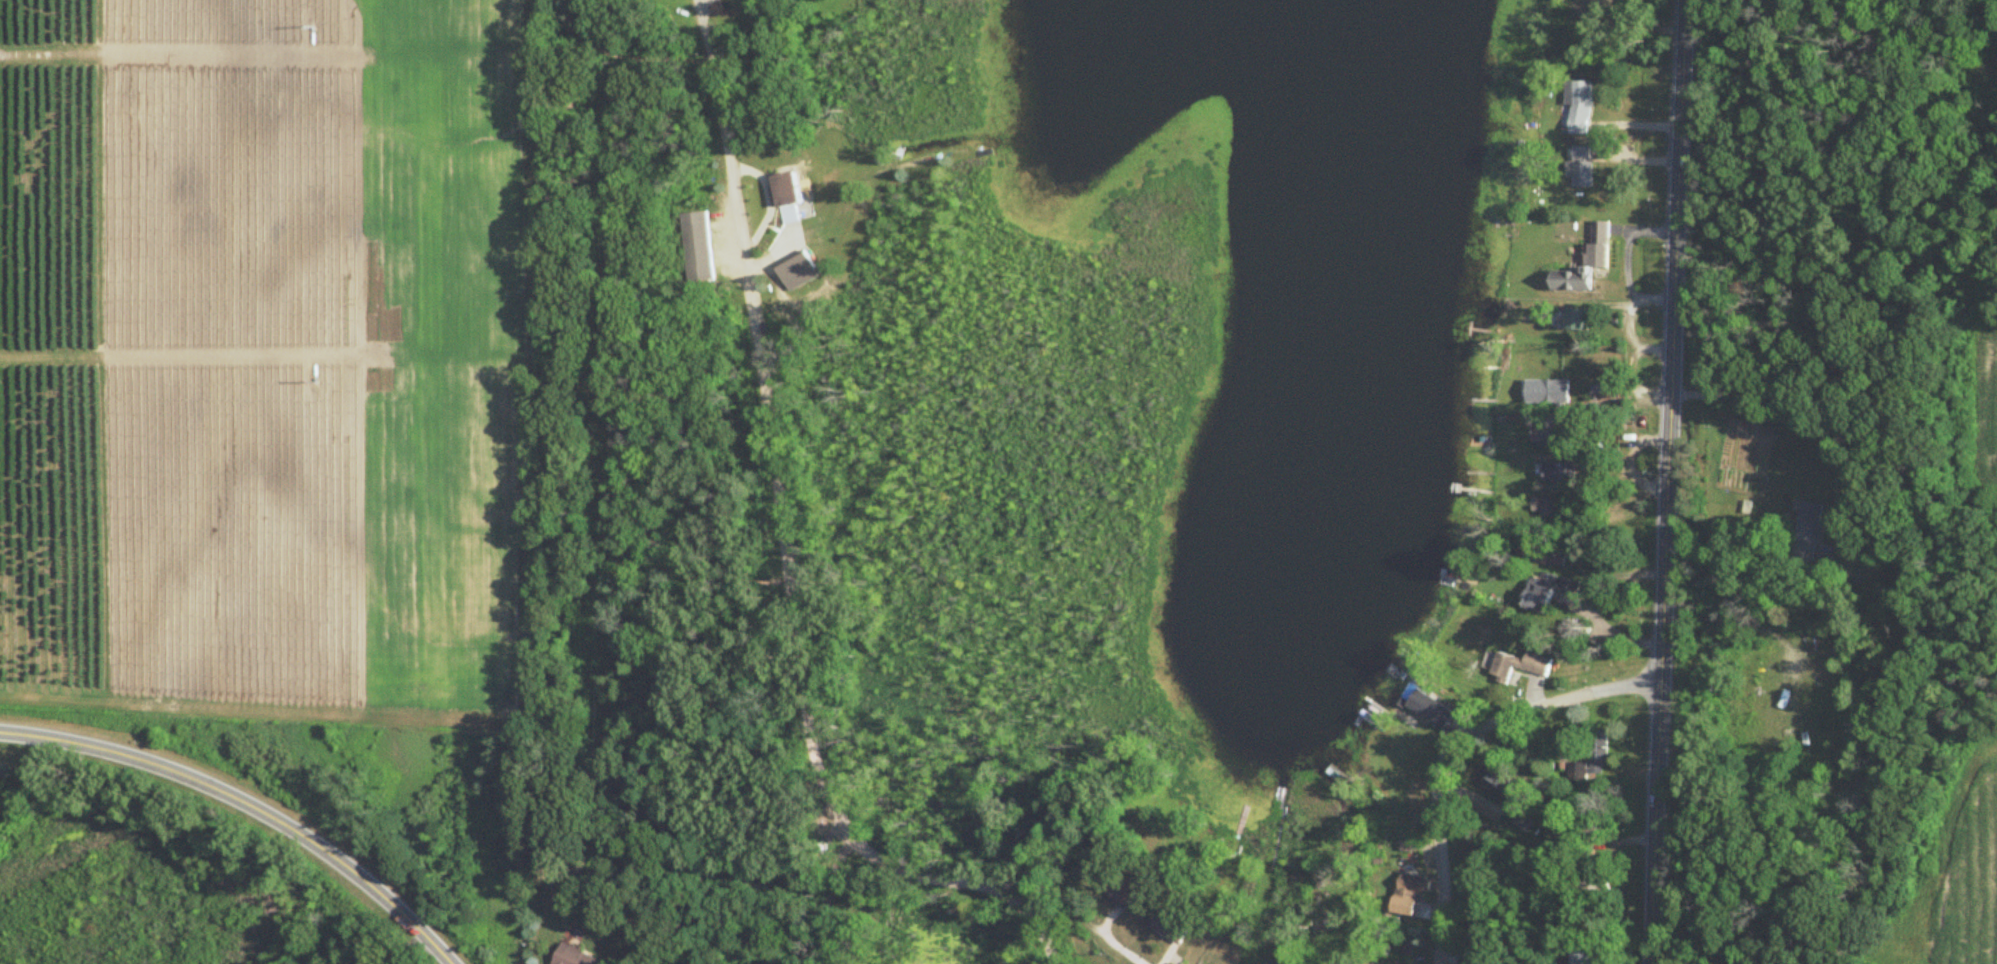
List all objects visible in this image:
road: (1609, 49)
building: (1580, 106)
road: (1680, 115)
building: (1582, 168)
building: (789, 197)
building: (1599, 245)
building: (697, 247)
road: (1624, 263)
building: (798, 274)
building: (1578, 320)
building: (1549, 392)
road: (1815, 423)
building: (1551, 436)
building: (1560, 473)
building: (1543, 505)
building: (1811, 532)
road: (784, 549)
building: (1545, 556)
building: (1542, 593)
road: (1663, 596)
road: (1588, 600)
building: (1520, 666)
building: (1432, 710)
road: (1454, 748)
building: (1598, 750)
building: (1499, 789)
road: (248, 804)
building: (1578, 886)
building: (1123, 891)
building: (1410, 895)
building: (1170, 928)
road: (414, 949)
road: (1122, 950)
building: (1583, 955)
building: (574, 957)
building: (1478, 962)

